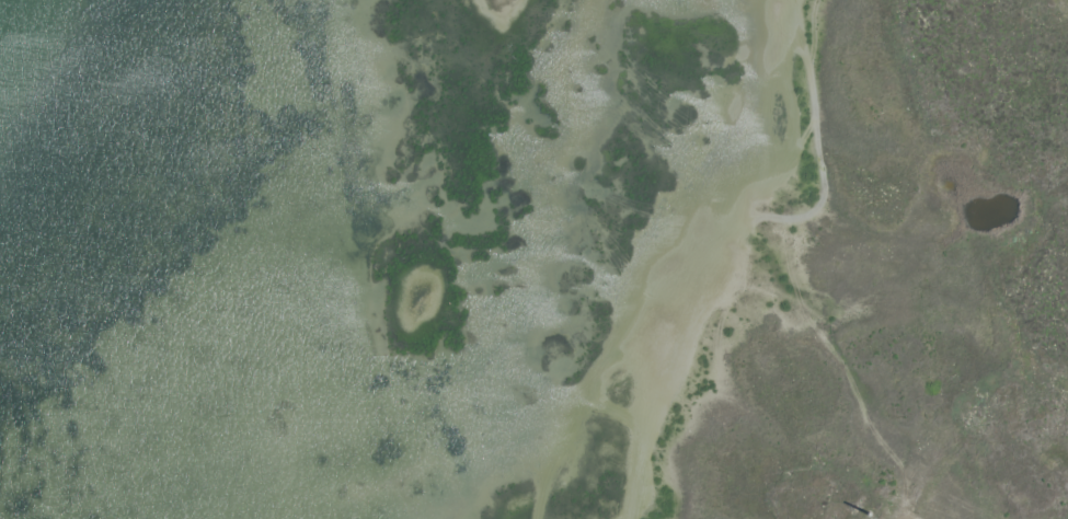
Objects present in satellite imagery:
park: (743, 227)
power tower: (871, 516)

